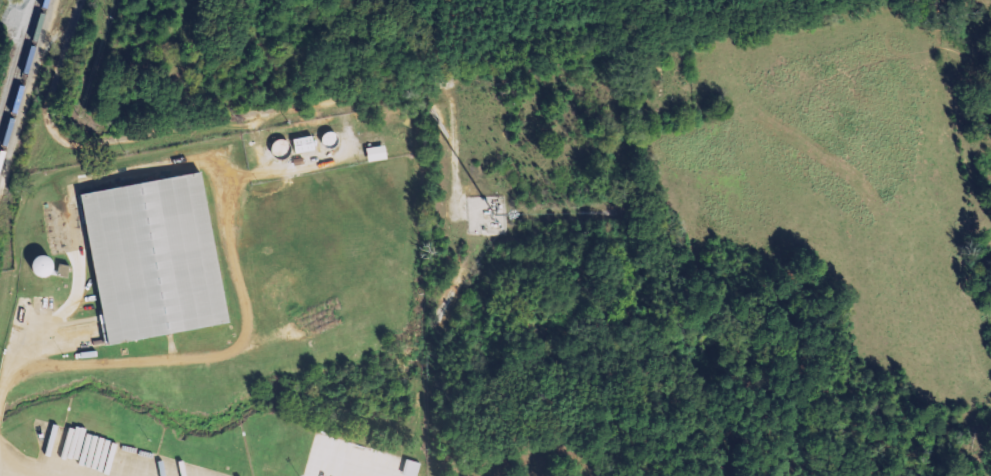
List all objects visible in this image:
railway: (18, 62)
railway: (23, 82)
road: (150, 133)
building: (308, 144)
road: (74, 237)
building: (155, 257)
building: (49, 266)
road: (362, 464)
building: (414, 468)

